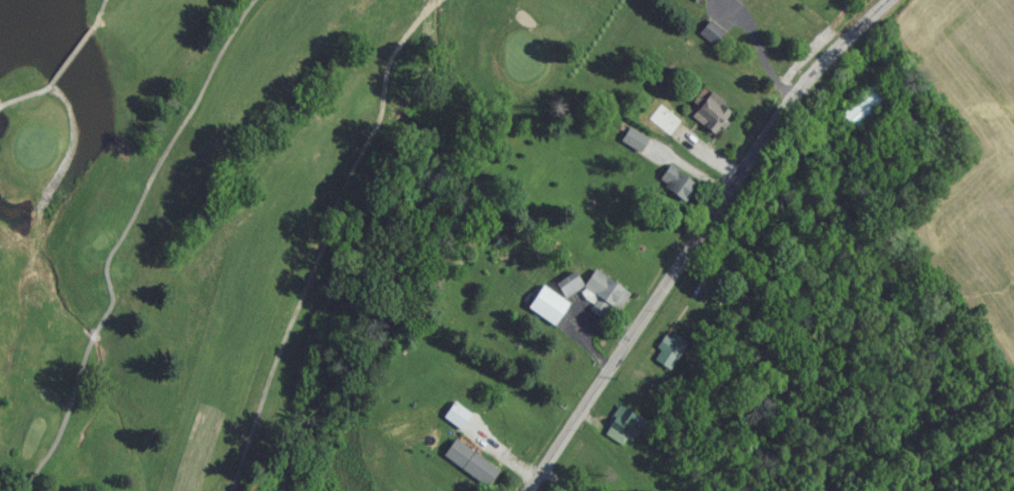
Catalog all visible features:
building: (692, 2)
road: (99, 16)
building: (711, 37)
road: (760, 44)
building: (687, 51)
road: (25, 101)
building: (862, 113)
building: (708, 117)
building: (633, 145)
road: (161, 164)
building: (675, 187)
park: (430, 227)
road: (693, 233)
road: (328, 236)
building: (567, 290)
building: (605, 297)
building: (546, 310)
building: (670, 355)
building: (454, 420)
road: (65, 421)
building: (625, 432)
building: (433, 442)
building: (468, 468)

